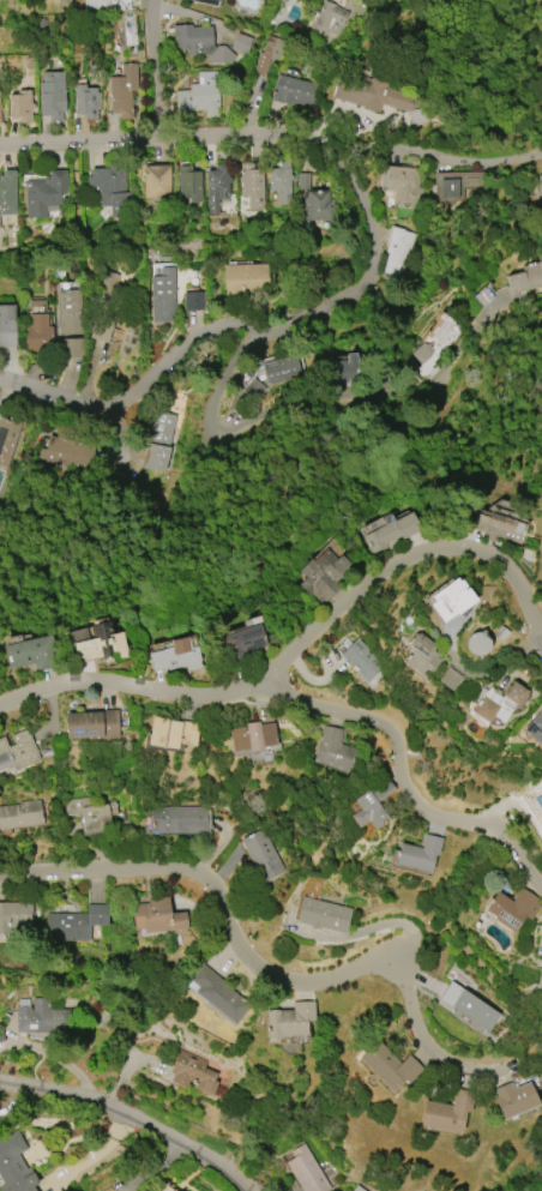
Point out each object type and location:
building: (209, 2)
building: (107, 4)
building: (331, 16)
building: (199, 43)
building: (240, 43)
building: (267, 53)
road: (150, 68)
building: (122, 89)
building: (294, 91)
building: (200, 94)
building: (52, 95)
building: (373, 95)
building: (86, 101)
building: (0, 106)
building: (20, 107)
building: (0, 119)
road: (155, 138)
road: (427, 156)
building: (156, 180)
building: (188, 181)
building: (281, 181)
building: (303, 181)
building: (401, 185)
building: (216, 186)
building: (252, 186)
building: (454, 186)
building: (109, 188)
building: (538, 188)
building: (7, 192)
building: (44, 193)
building: (319, 205)
building: (399, 252)
building: (245, 278)
building: (525, 278)
building: (109, 282)
building: (162, 295)
building: (193, 300)
building: (70, 321)
building: (7, 326)
building: (101, 327)
road: (260, 329)
building: (37, 332)
building: (435, 342)
road: (459, 360)
building: (345, 365)
road: (234, 381)
building: (264, 383)
road: (296, 417)
building: (7, 438)
building: (158, 440)
building: (67, 452)
building: (498, 524)
building: (390, 530)
building: (323, 575)
building: (451, 600)
road: (324, 624)
building: (242, 639)
building: (98, 643)
building: (476, 643)
building: (31, 652)
building: (422, 654)
building: (176, 655)
building: (361, 660)
building: (448, 678)
road: (31, 693)
building: (499, 703)
building: (91, 724)
building: (535, 727)
building: (171, 733)
building: (251, 738)
building: (17, 750)
building: (336, 751)
road: (404, 789)
building: (371, 805)
building: (91, 813)
building: (20, 814)
building: (180, 819)
building: (418, 853)
building: (261, 855)
road: (94, 873)
building: (511, 909)
building: (321, 914)
building: (14, 915)
building: (156, 915)
building: (76, 924)
building: (540, 936)
road: (350, 972)
building: (217, 993)
building: (466, 1006)
building: (43, 1018)
building: (289, 1019)
building: (0, 1036)
building: (389, 1065)
building: (192, 1072)
building: (513, 1099)
building: (447, 1112)
road: (130, 1117)
building: (14, 1165)
building: (305, 1171)
building: (357, 1189)

